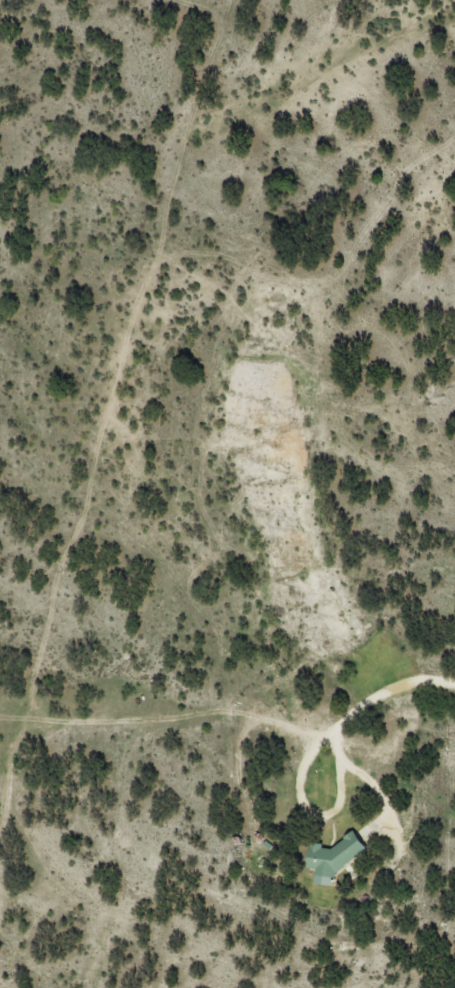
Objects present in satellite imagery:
road: (151, 391)
building: (334, 855)

